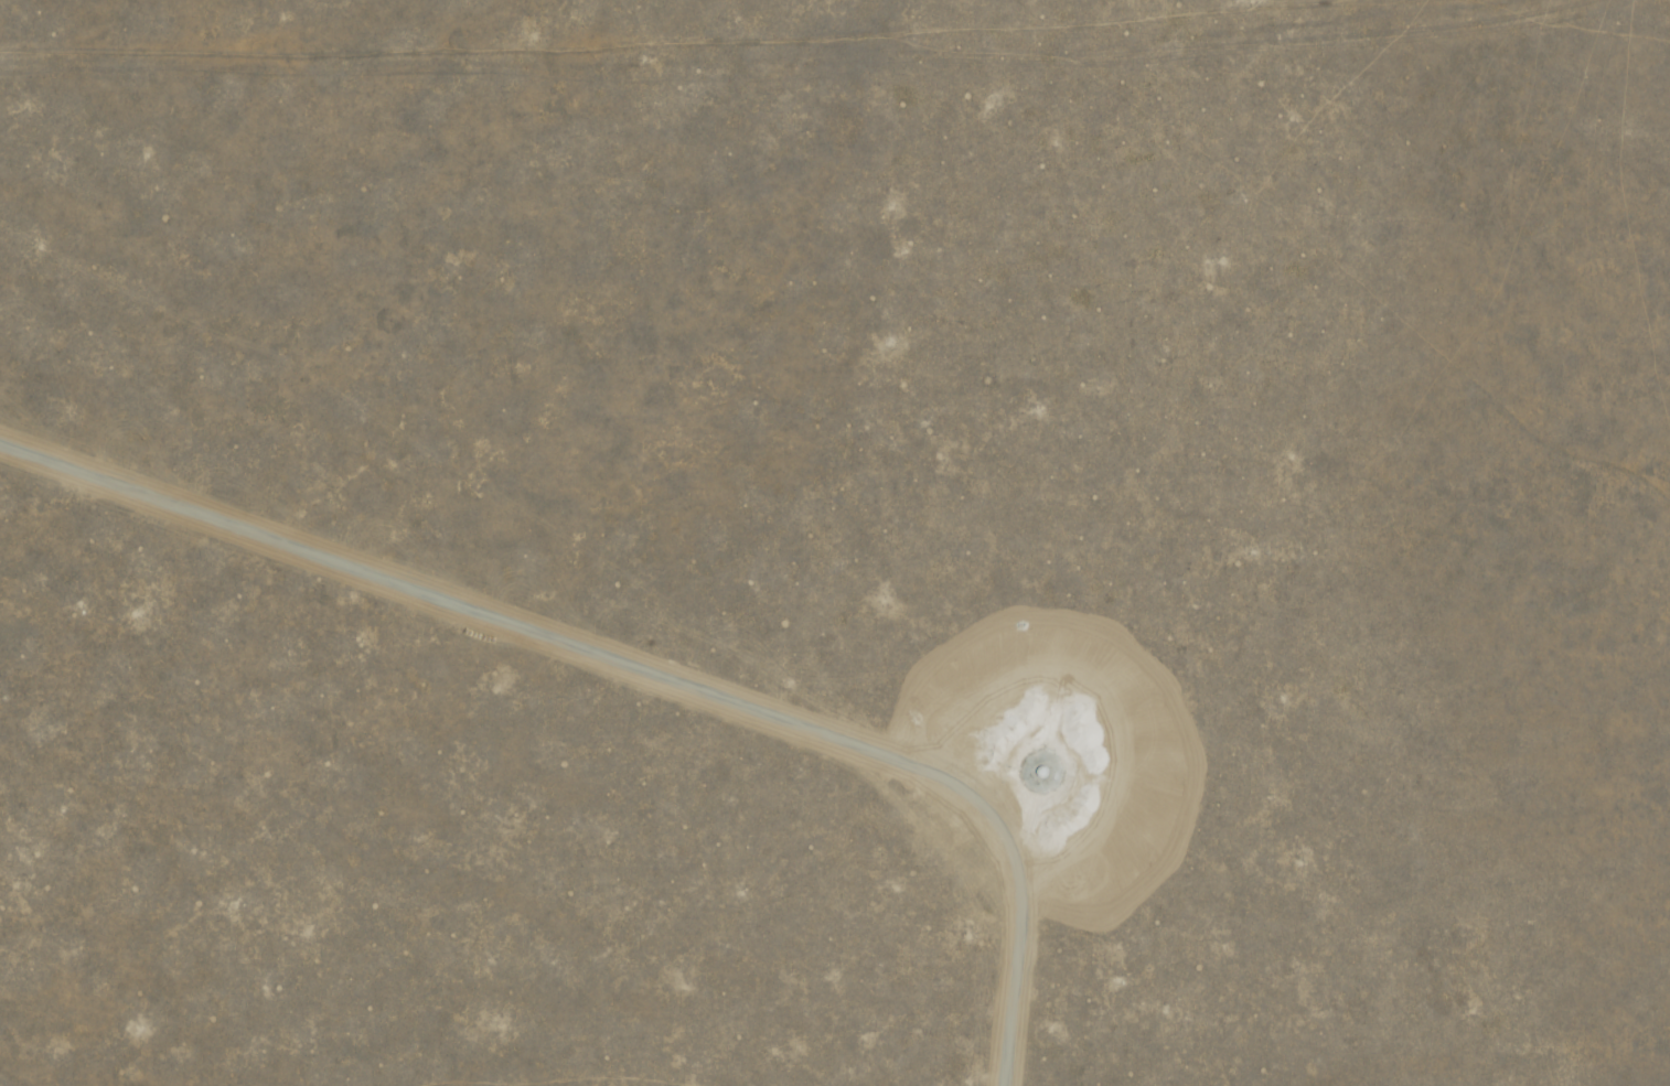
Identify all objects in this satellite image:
wind turbine: (1049, 765)

